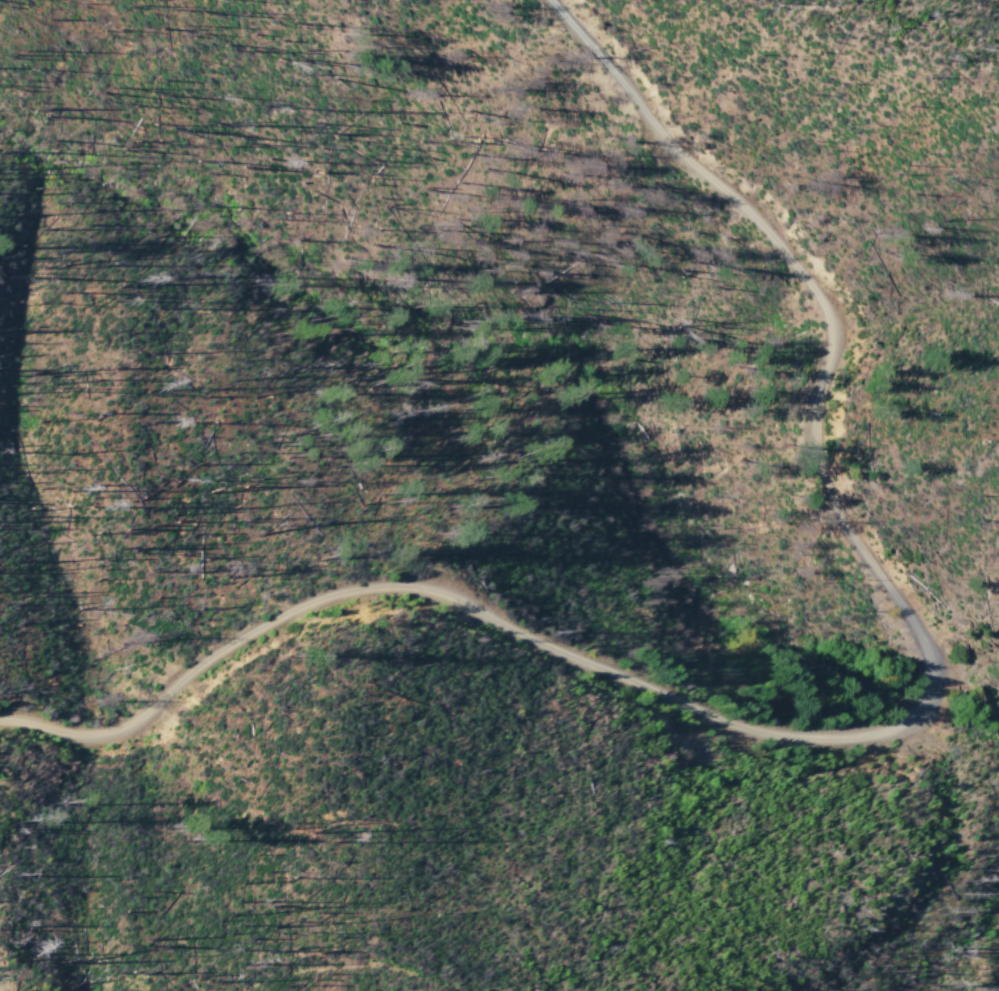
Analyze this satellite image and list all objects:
road: (870, 724)

